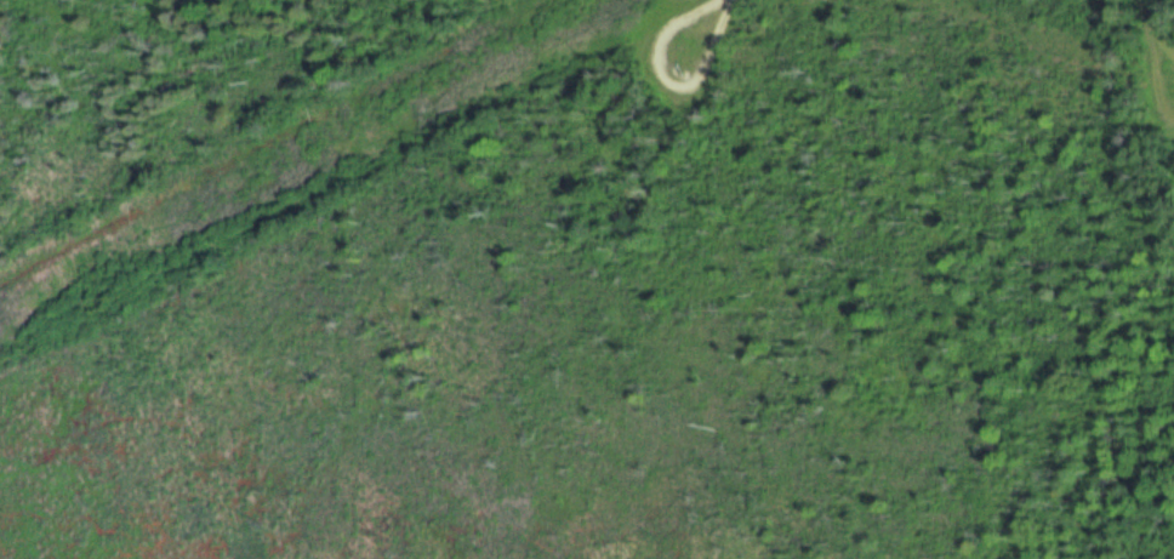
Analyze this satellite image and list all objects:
road: (1146, 17)
road: (1163, 42)
road: (666, 73)
road: (1155, 76)

